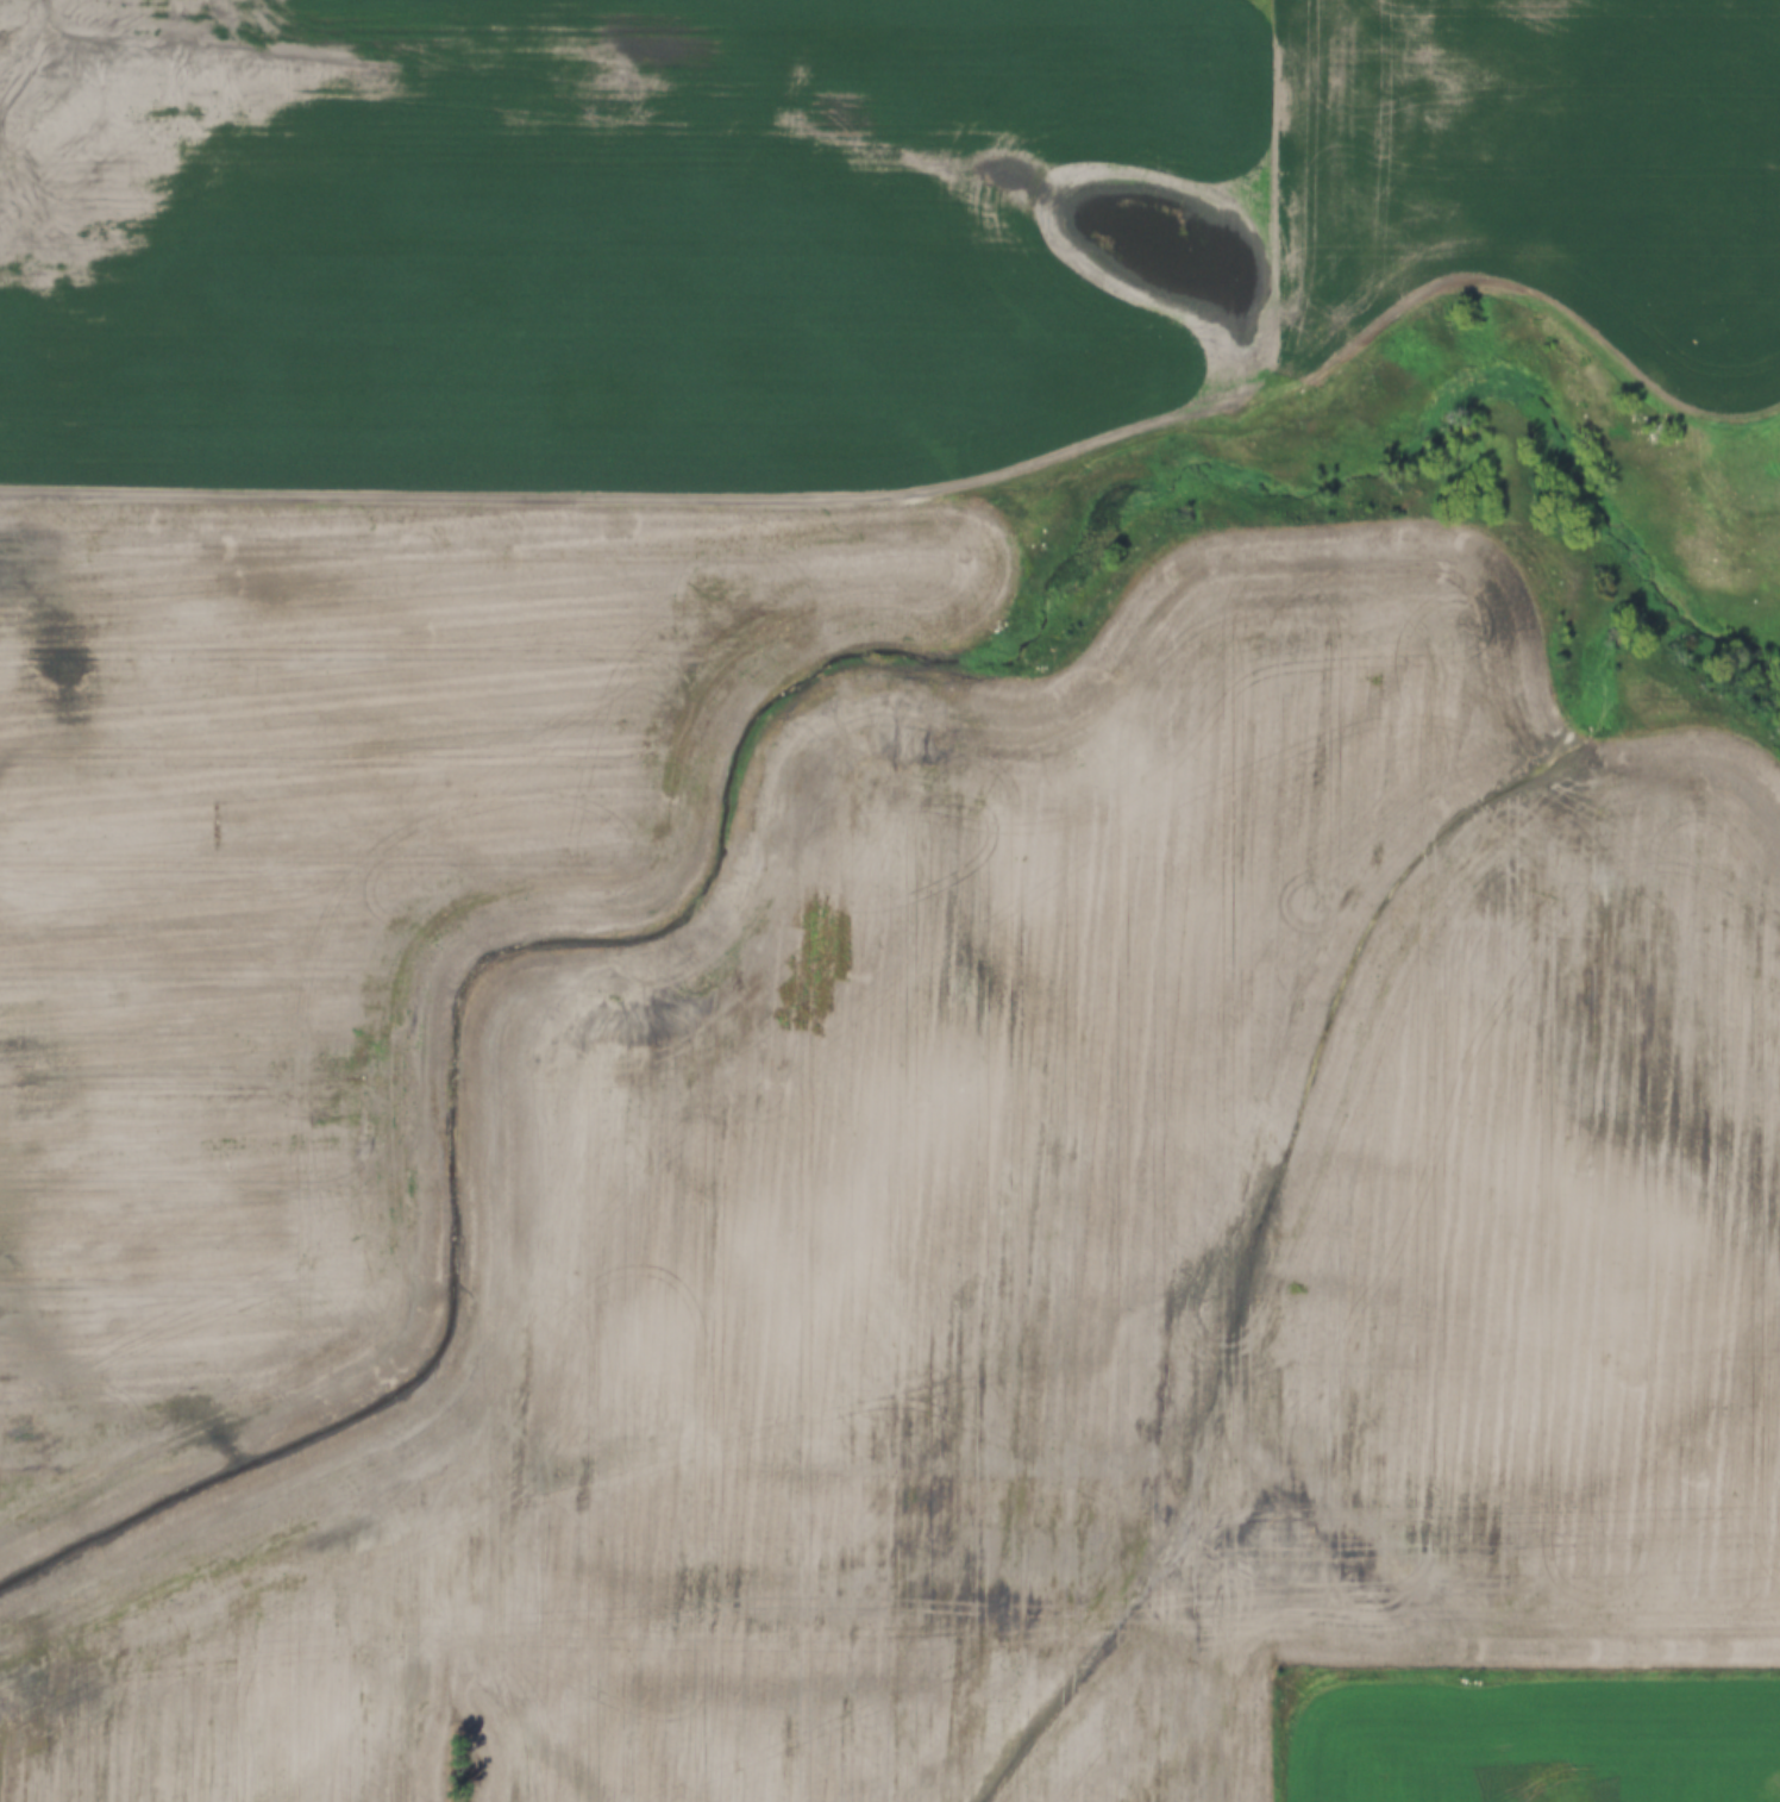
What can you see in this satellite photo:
road: (879, 506)

